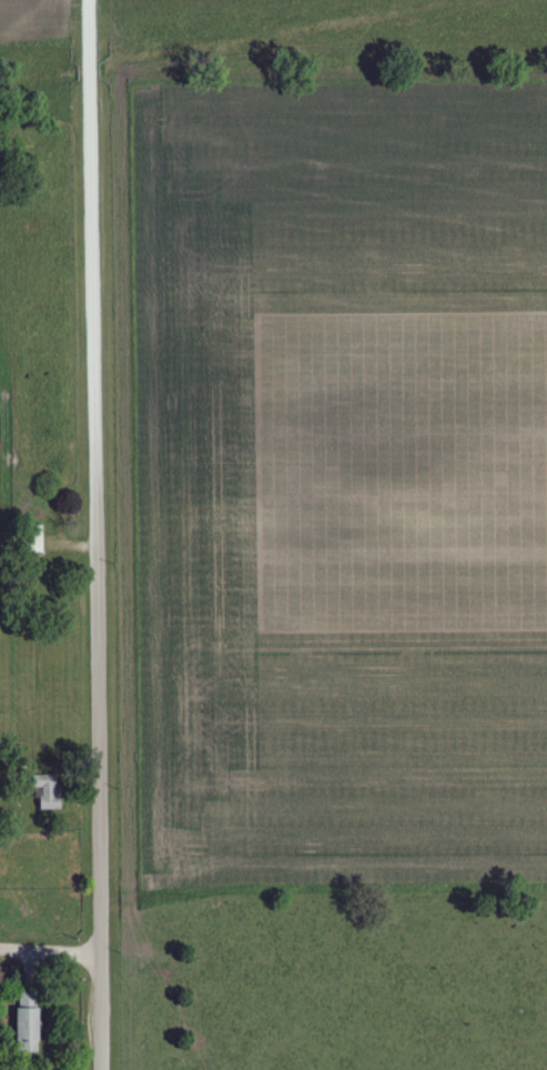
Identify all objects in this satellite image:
road: (93, 534)
building: (51, 795)
road: (50, 950)
building: (29, 1024)

